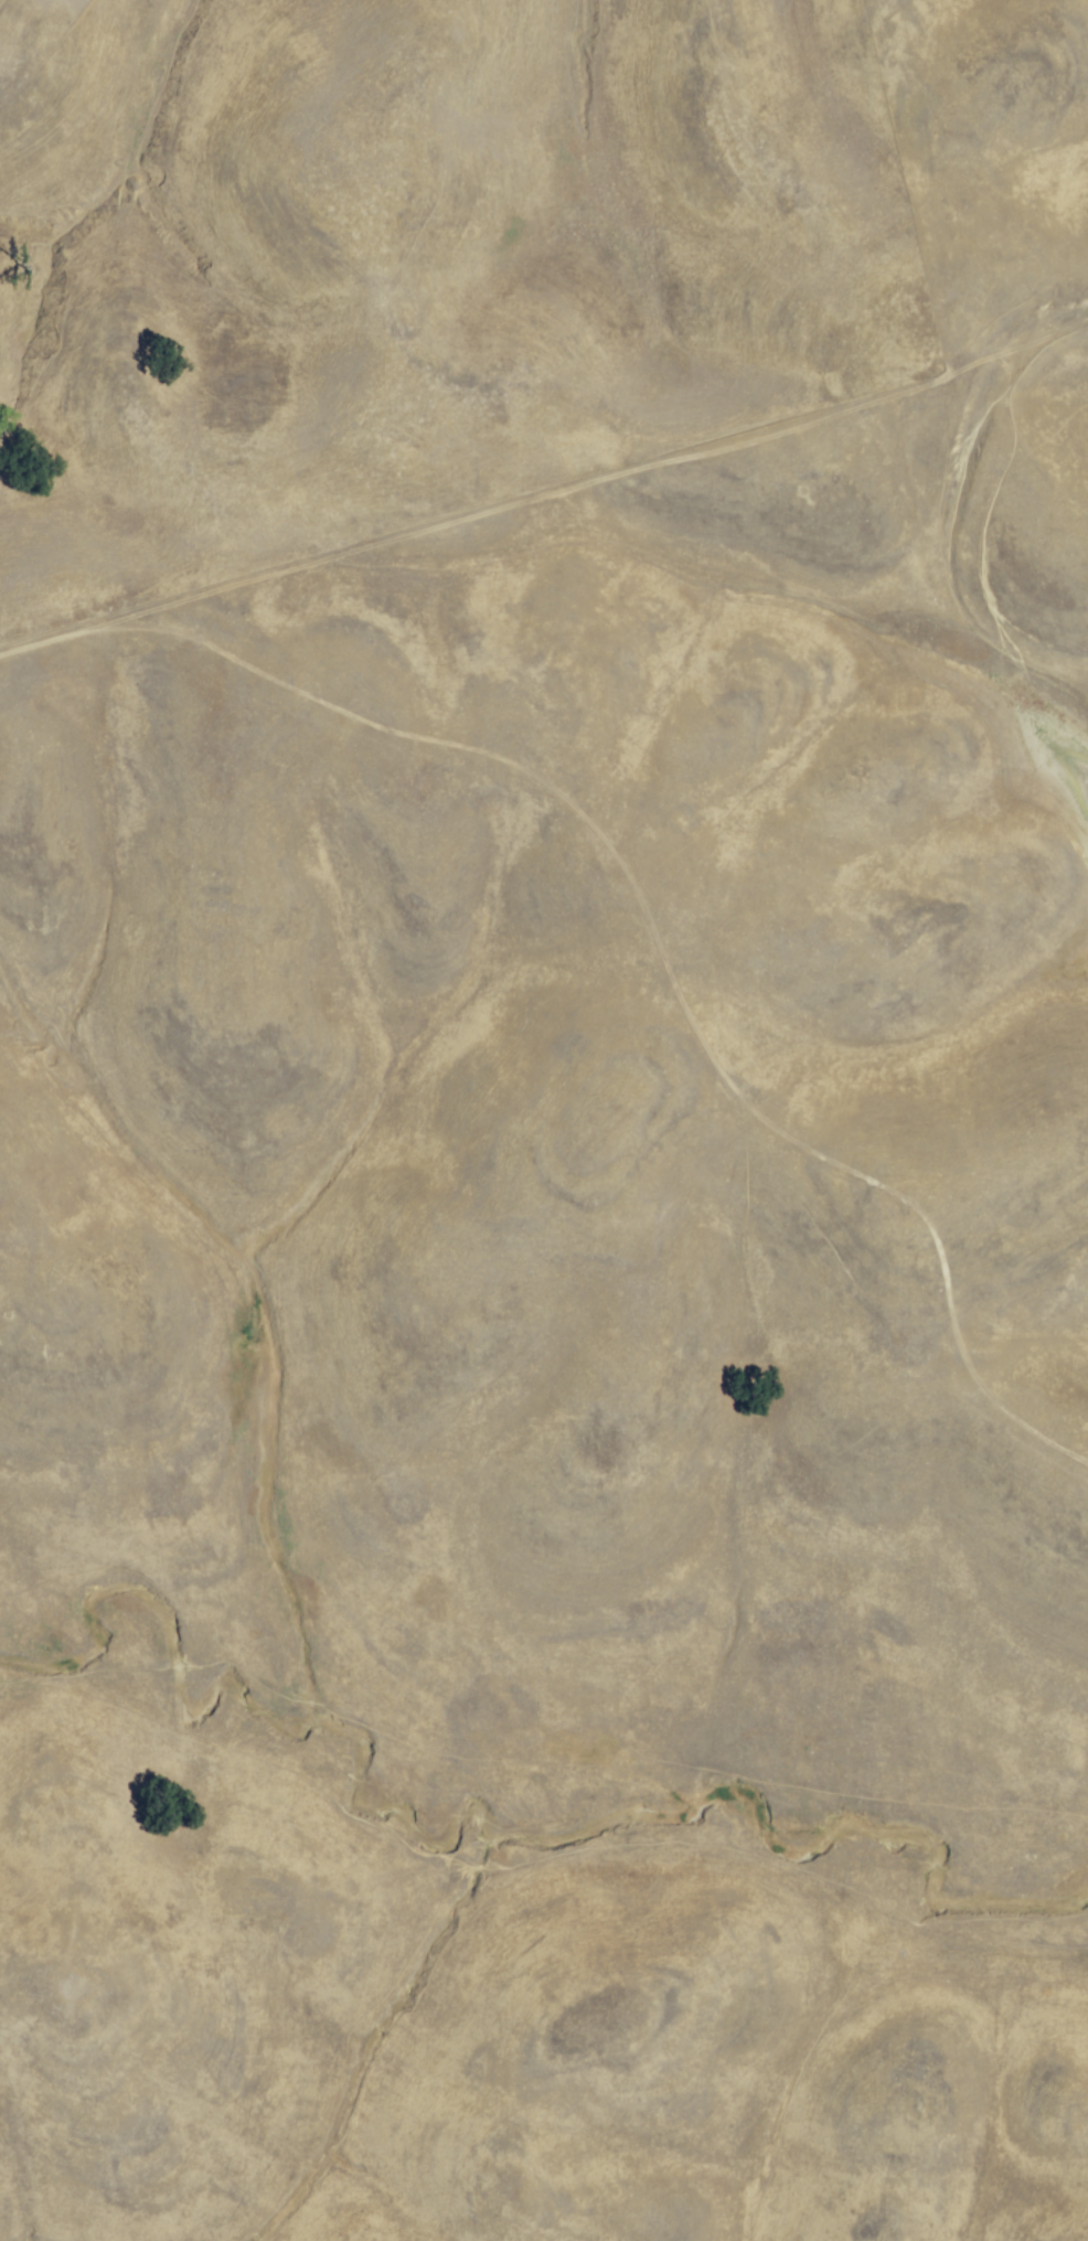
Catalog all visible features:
road: (2, 4)

